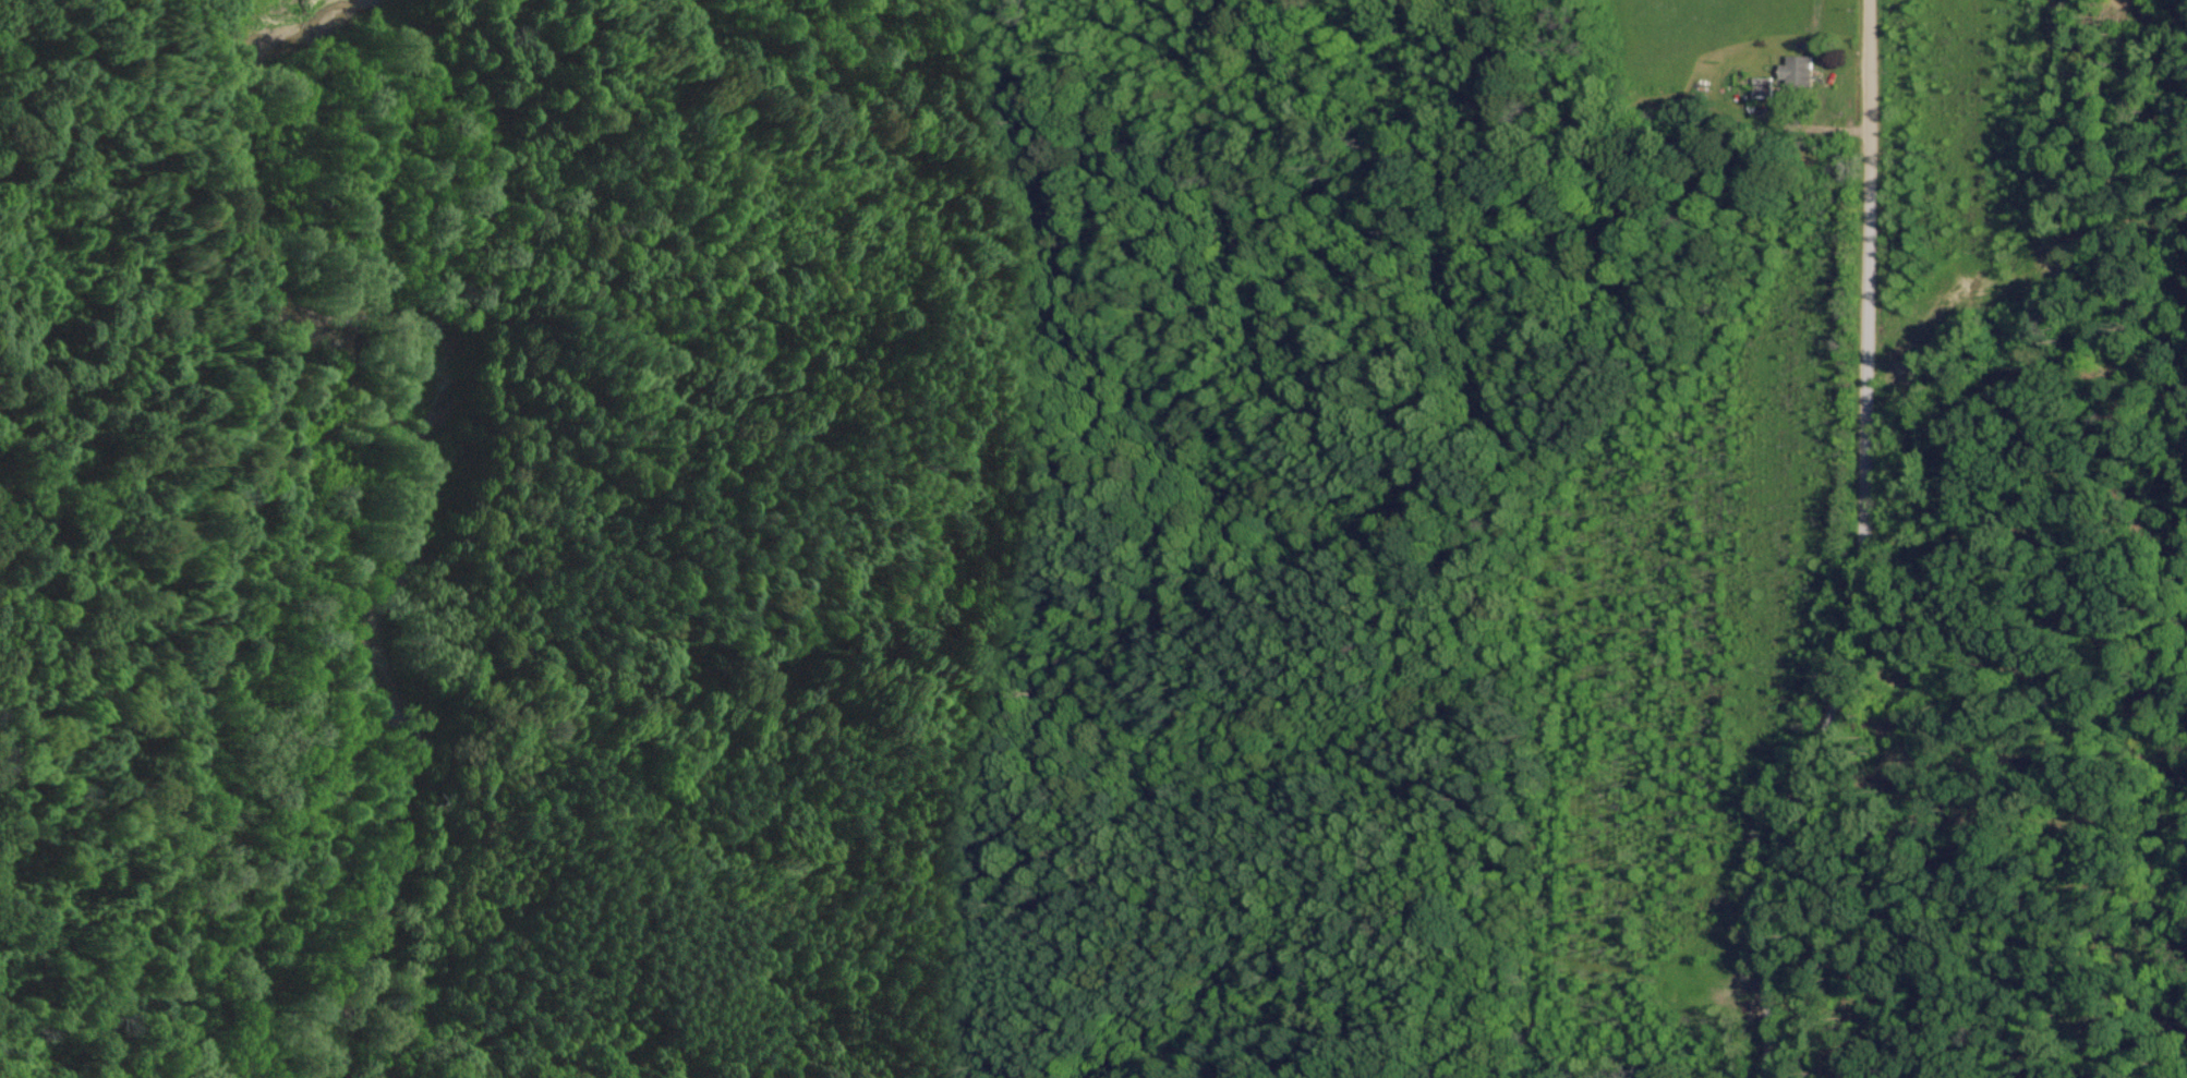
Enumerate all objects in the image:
building: (1797, 70)
road: (1860, 546)

